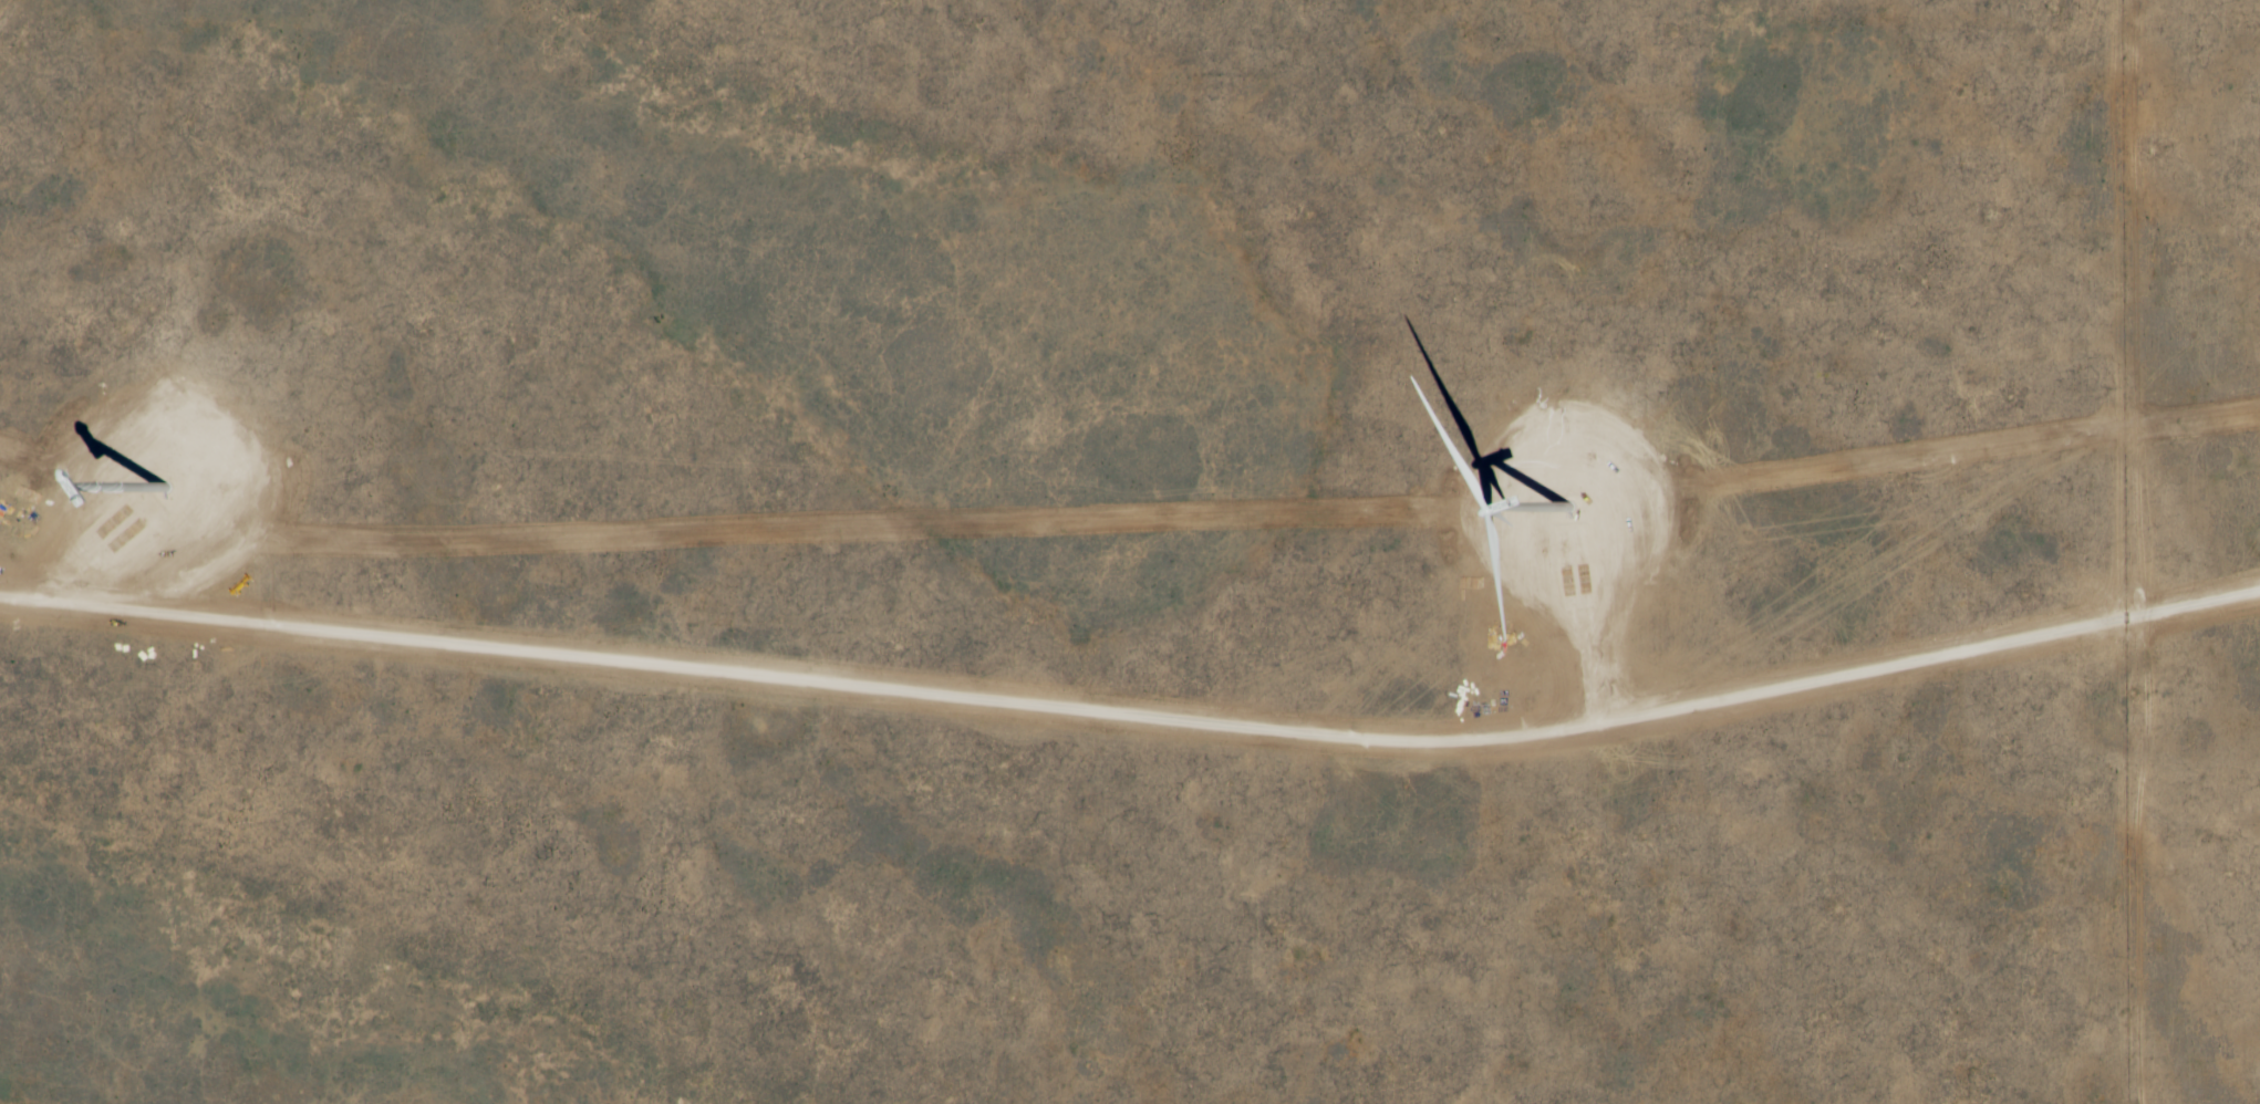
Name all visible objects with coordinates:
wind turbine: (157, 480)
wind turbine: (1569, 511)

